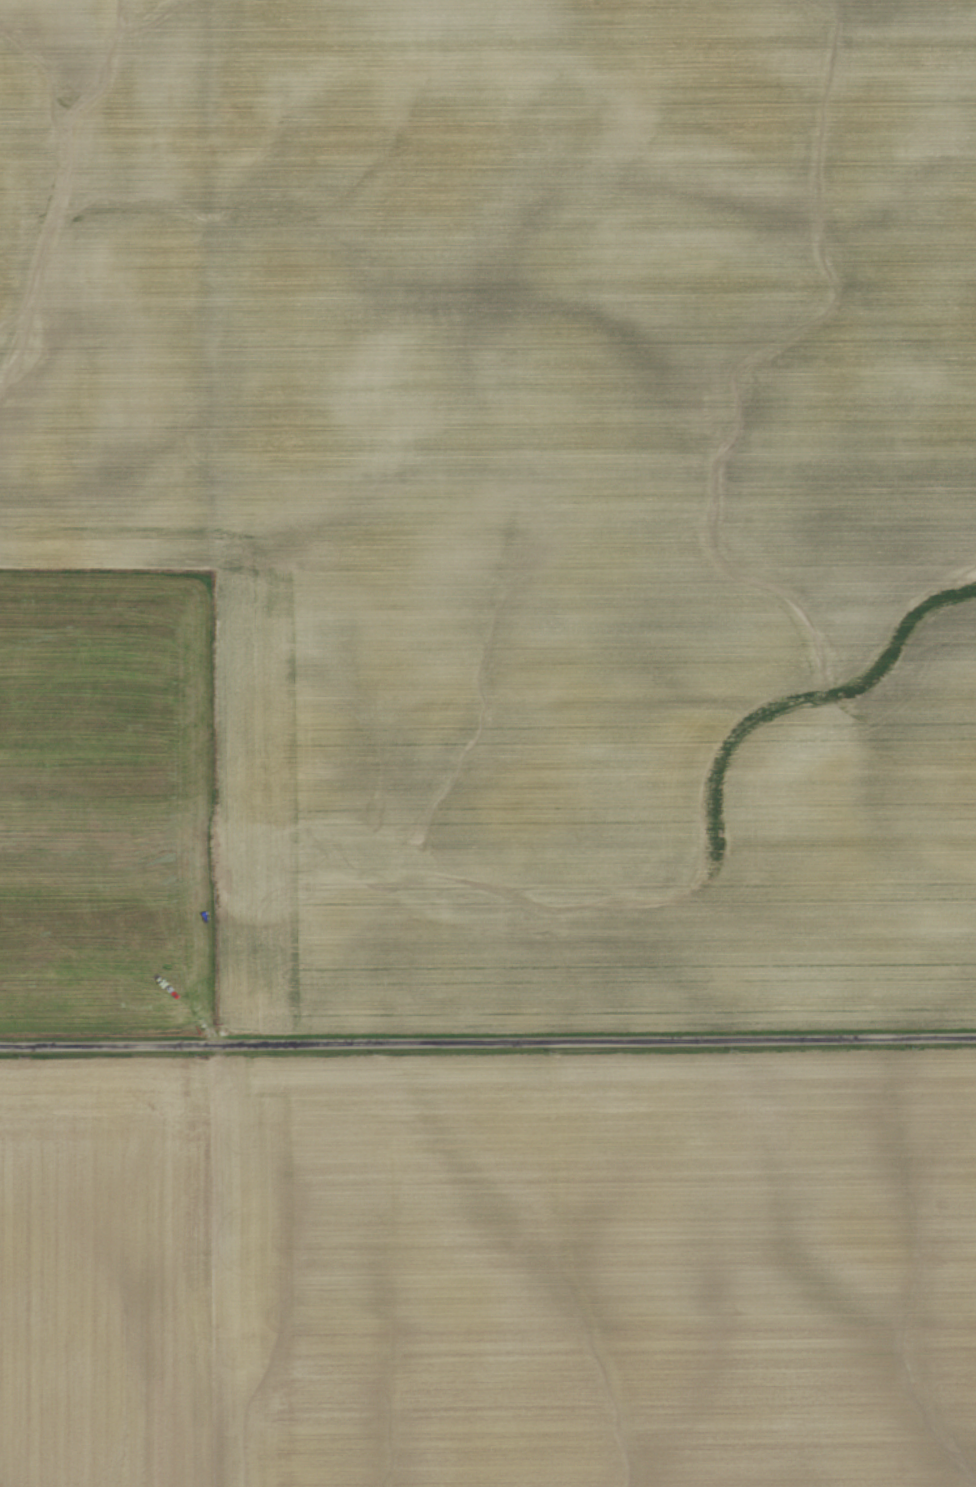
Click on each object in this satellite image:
road: (488, 1039)

